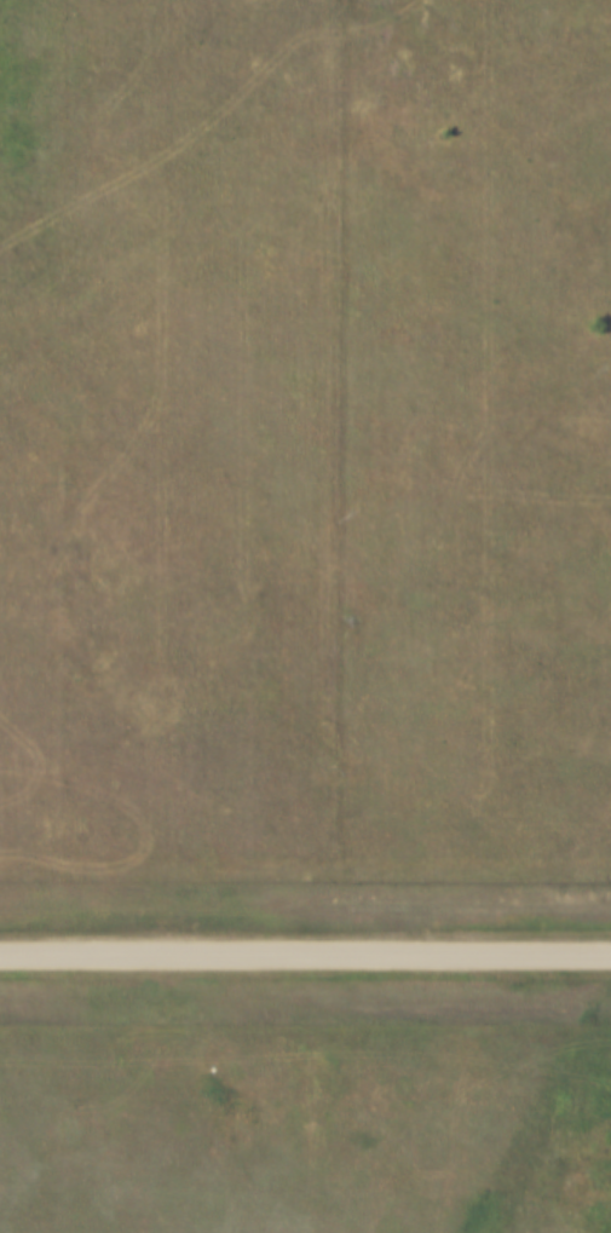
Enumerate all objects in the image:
road: (305, 947)

